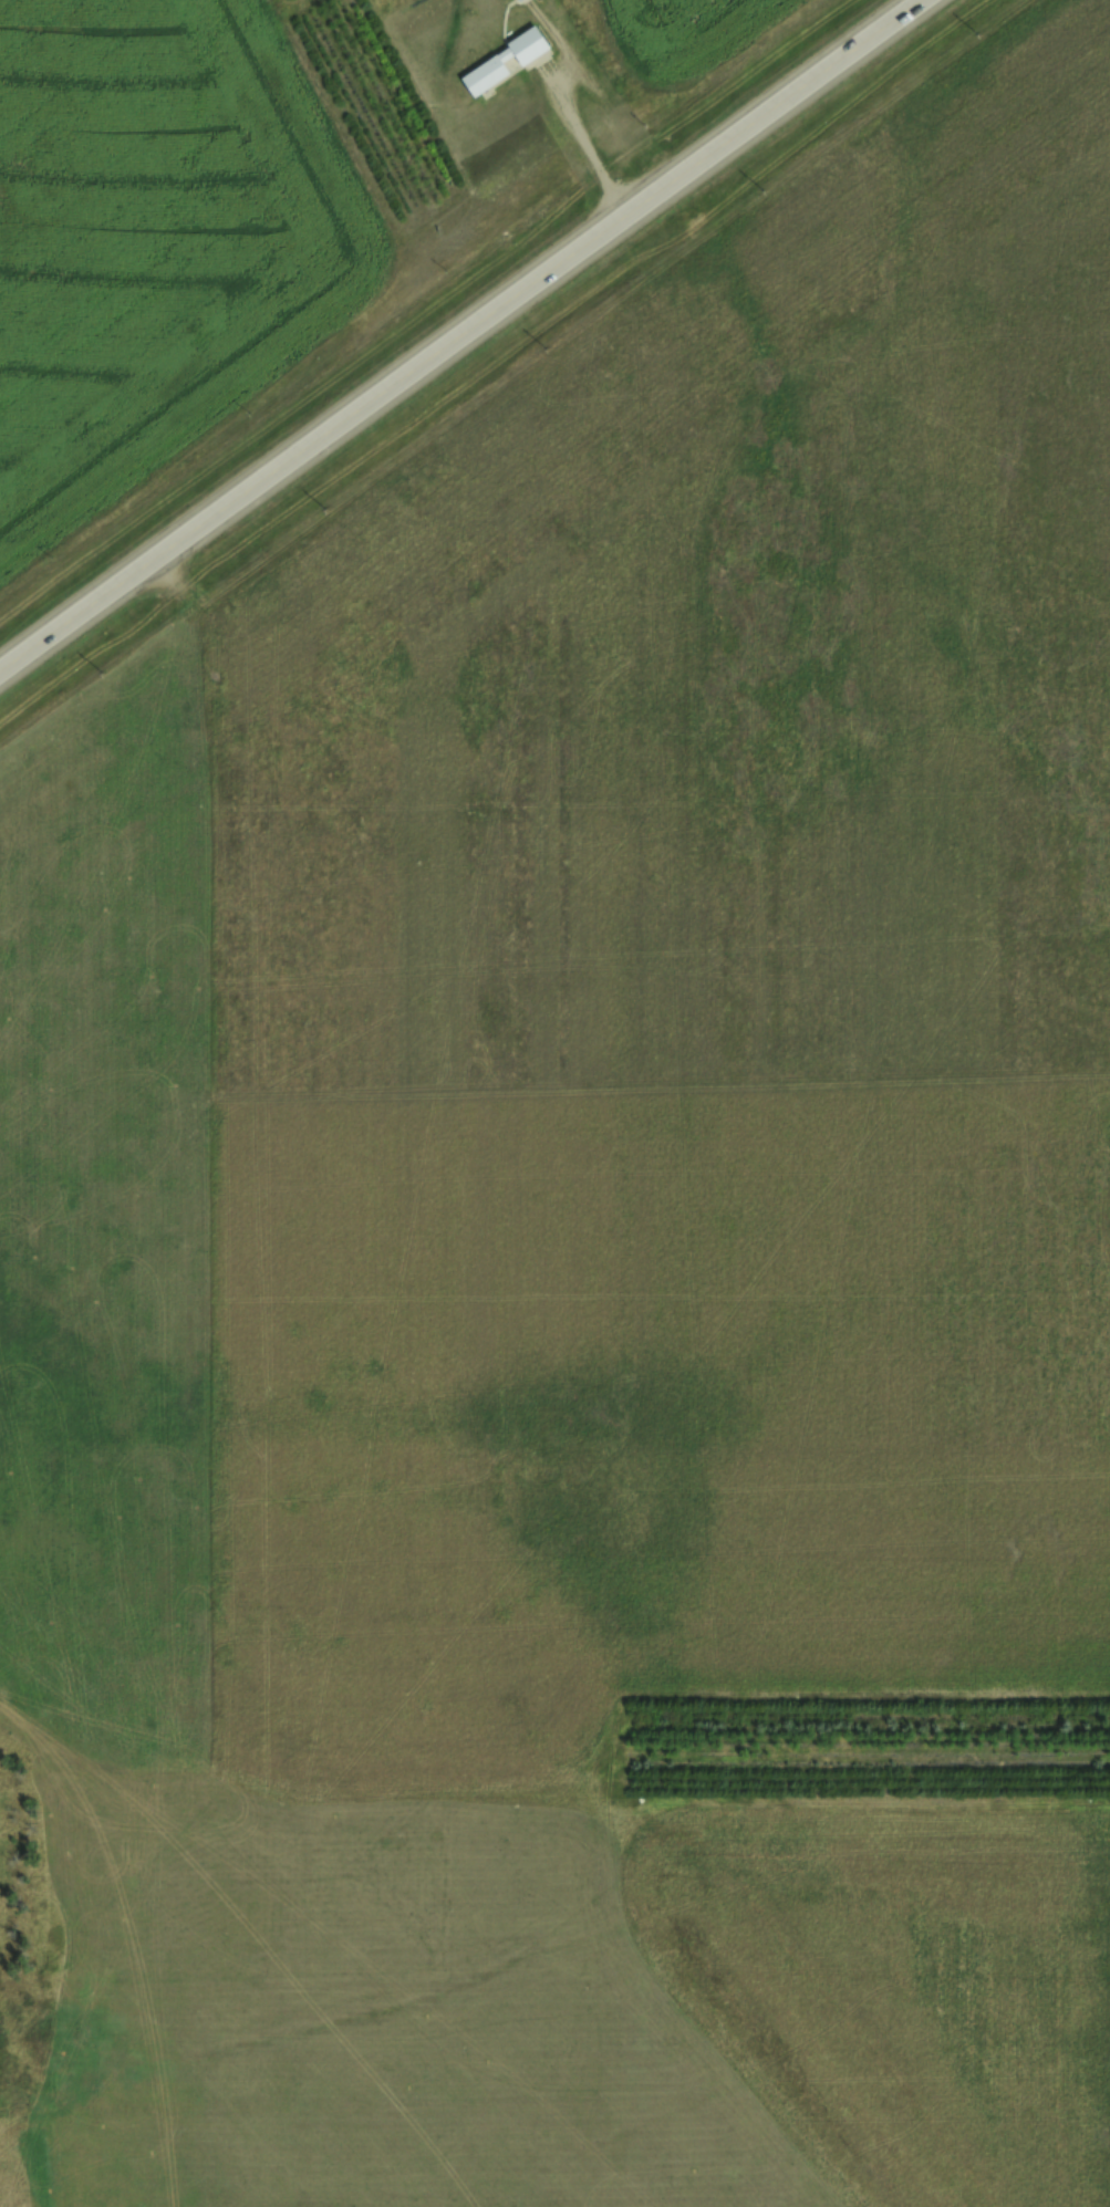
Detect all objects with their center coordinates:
building: (504, 64)
road: (463, 336)

